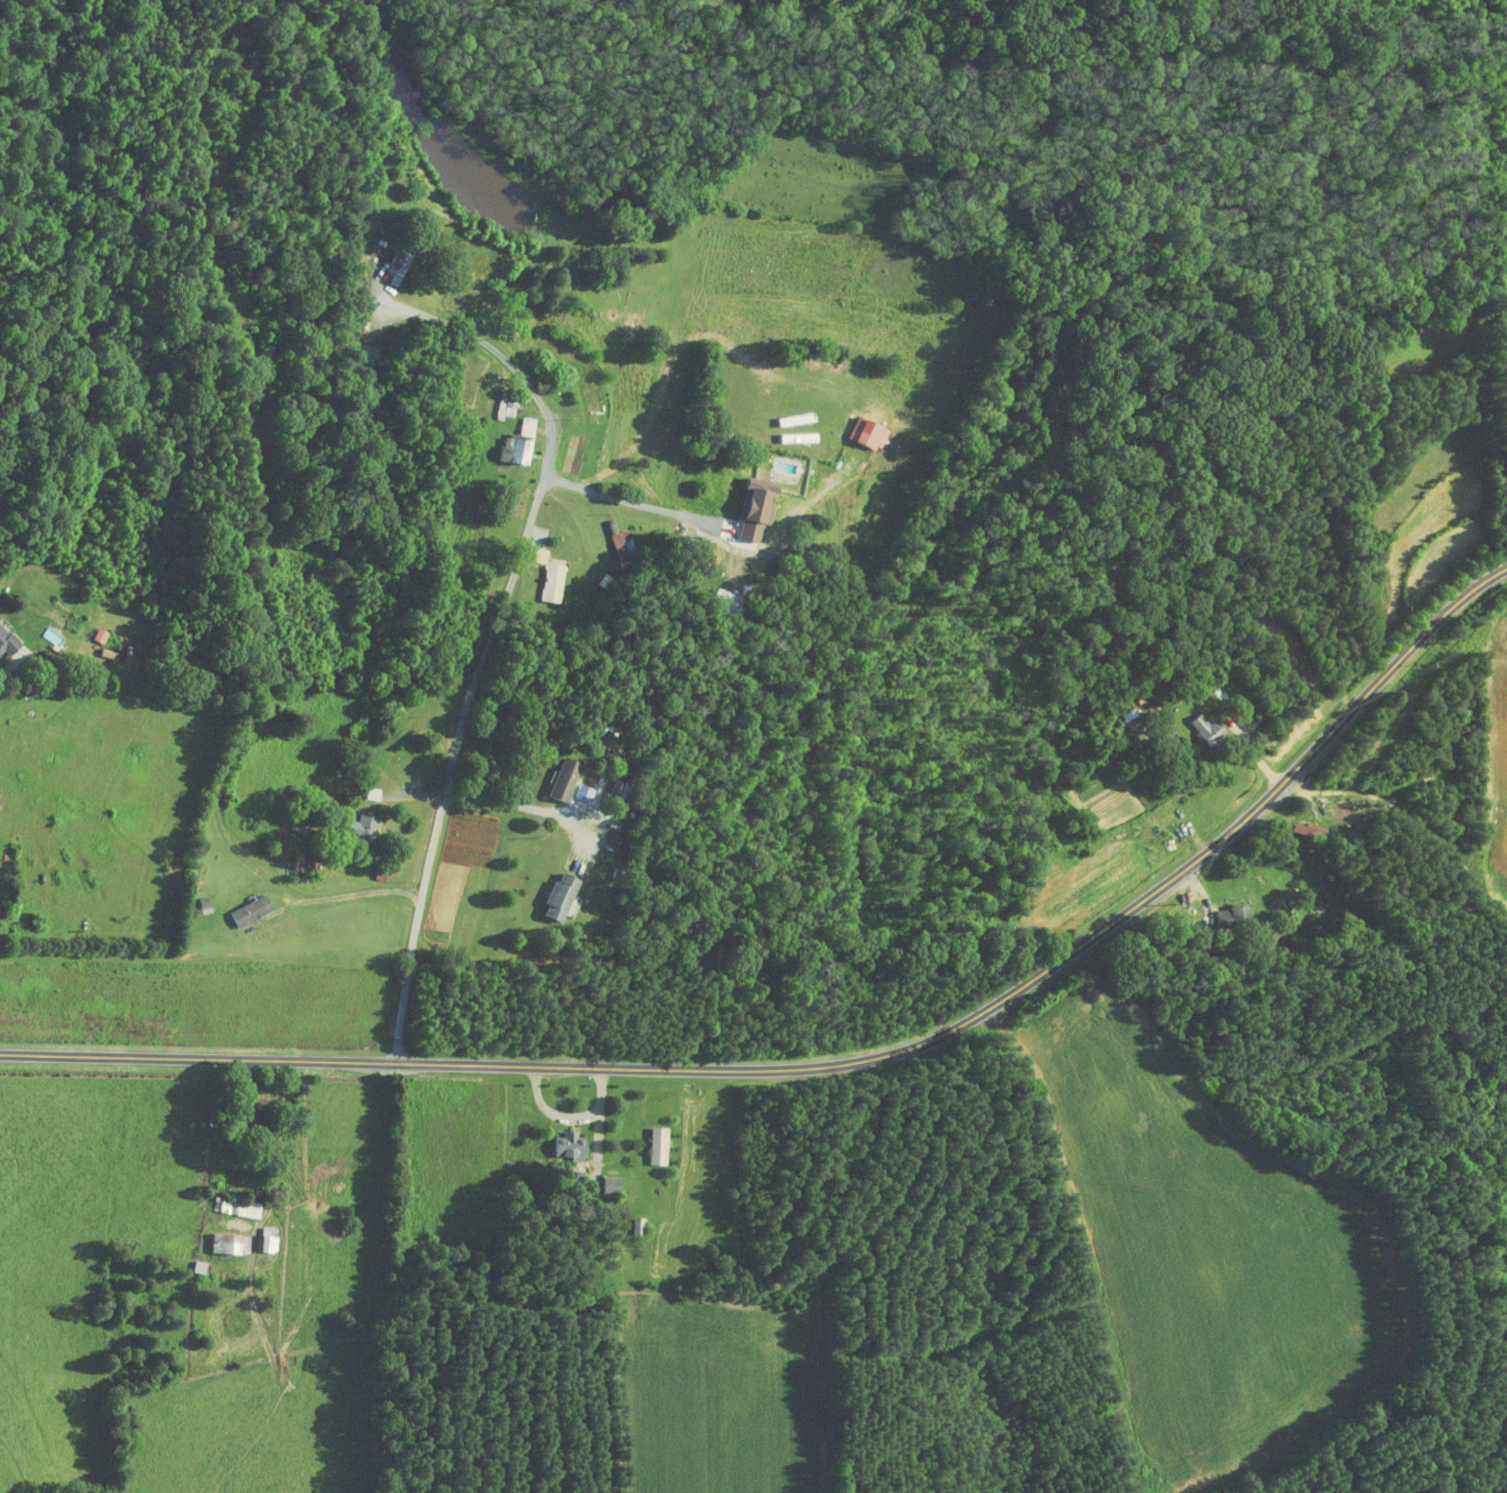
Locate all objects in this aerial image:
building: (401, 265)
road: (508, 360)
building: (871, 431)
road: (653, 506)
building: (623, 542)
building: (542, 554)
building: (555, 581)
building: (9, 639)
building: (106, 643)
road: (5, 670)
building: (1138, 721)
building: (1211, 729)
road: (450, 766)
building: (568, 778)
building: (587, 791)
road: (523, 805)
building: (370, 826)
building: (565, 896)
building: (255, 909)
road: (841, 1064)
building: (662, 1144)
building: (573, 1145)
building: (241, 1206)
building: (272, 1239)
building: (233, 1242)
building: (201, 1266)

